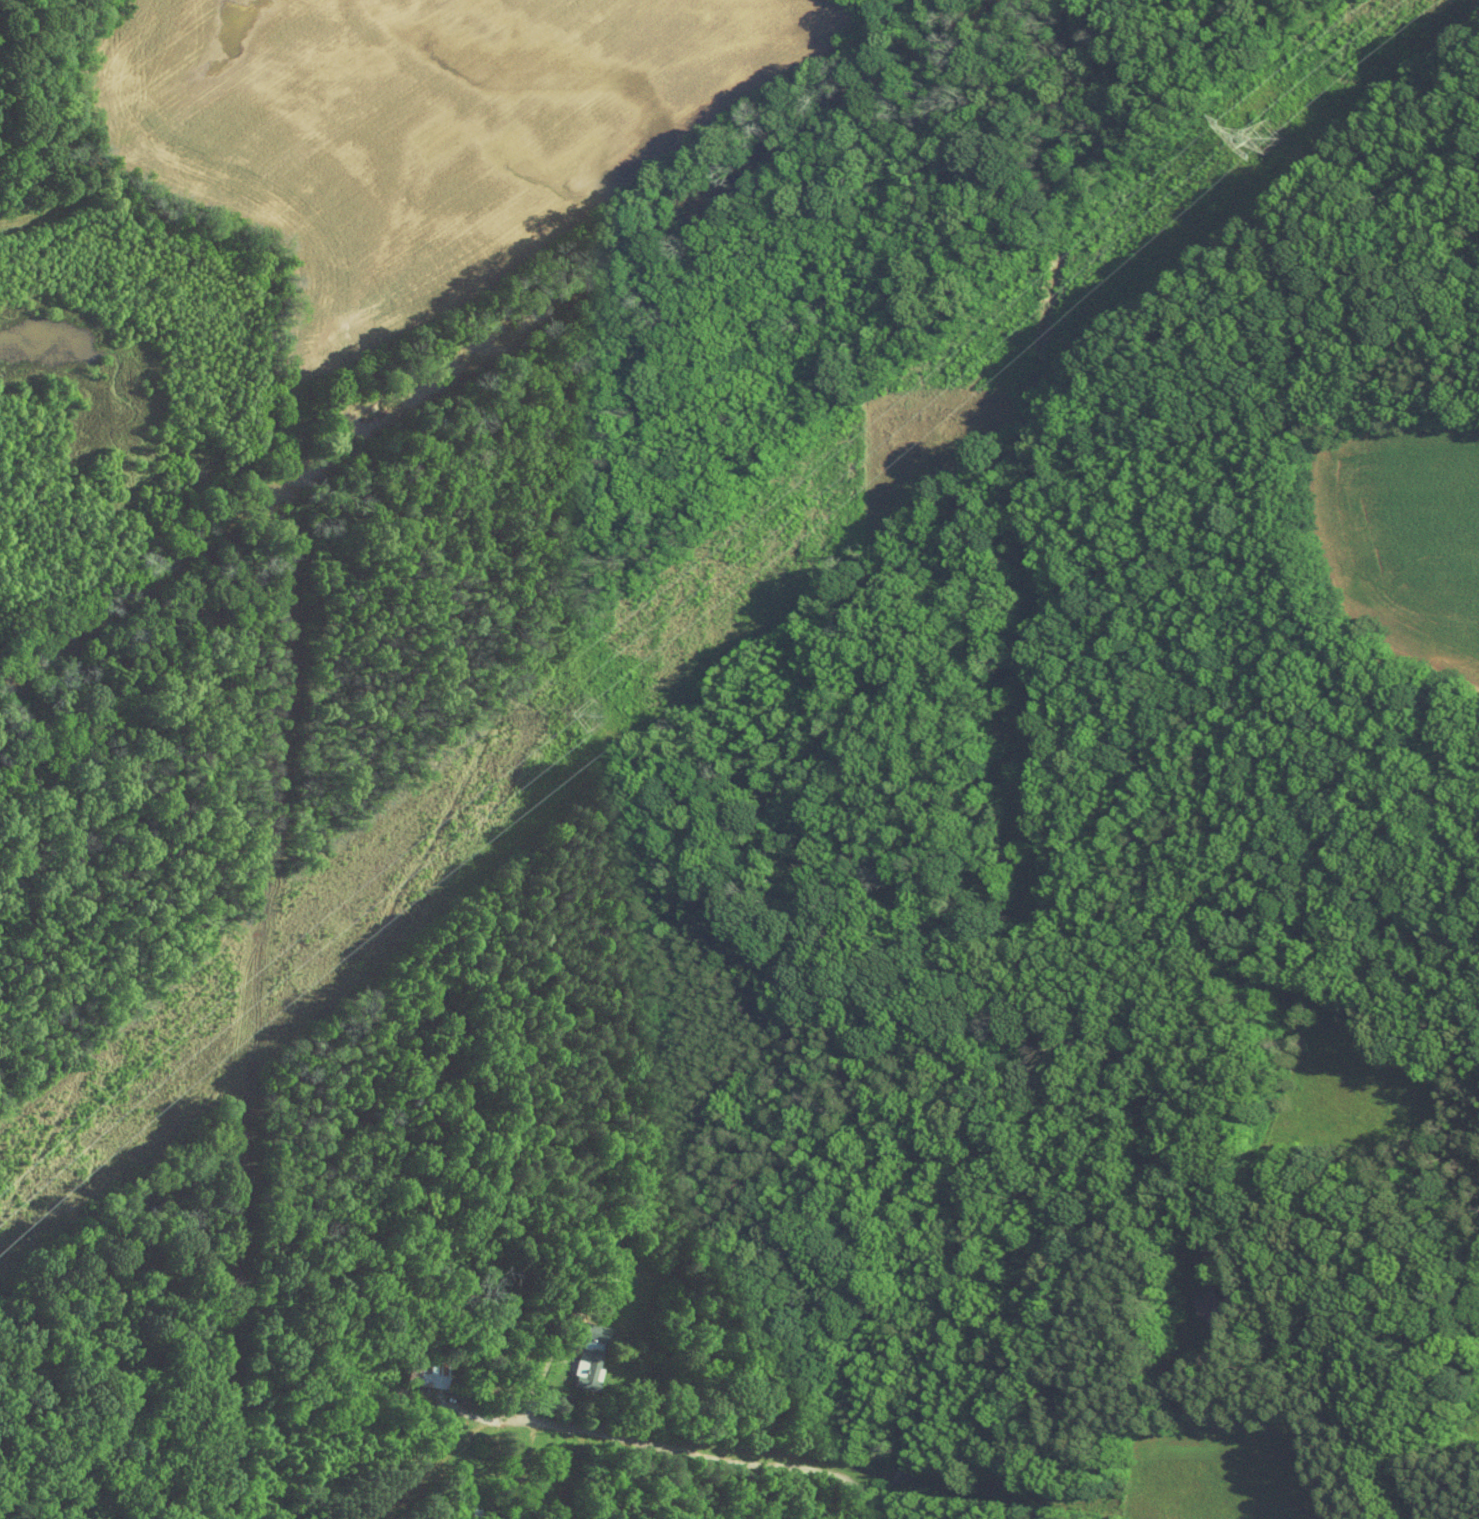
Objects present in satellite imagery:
power tower: (1271, 139)
power tower: (584, 719)
building: (1210, 1306)
road: (1327, 1343)
building: (584, 1355)
road: (726, 1458)

